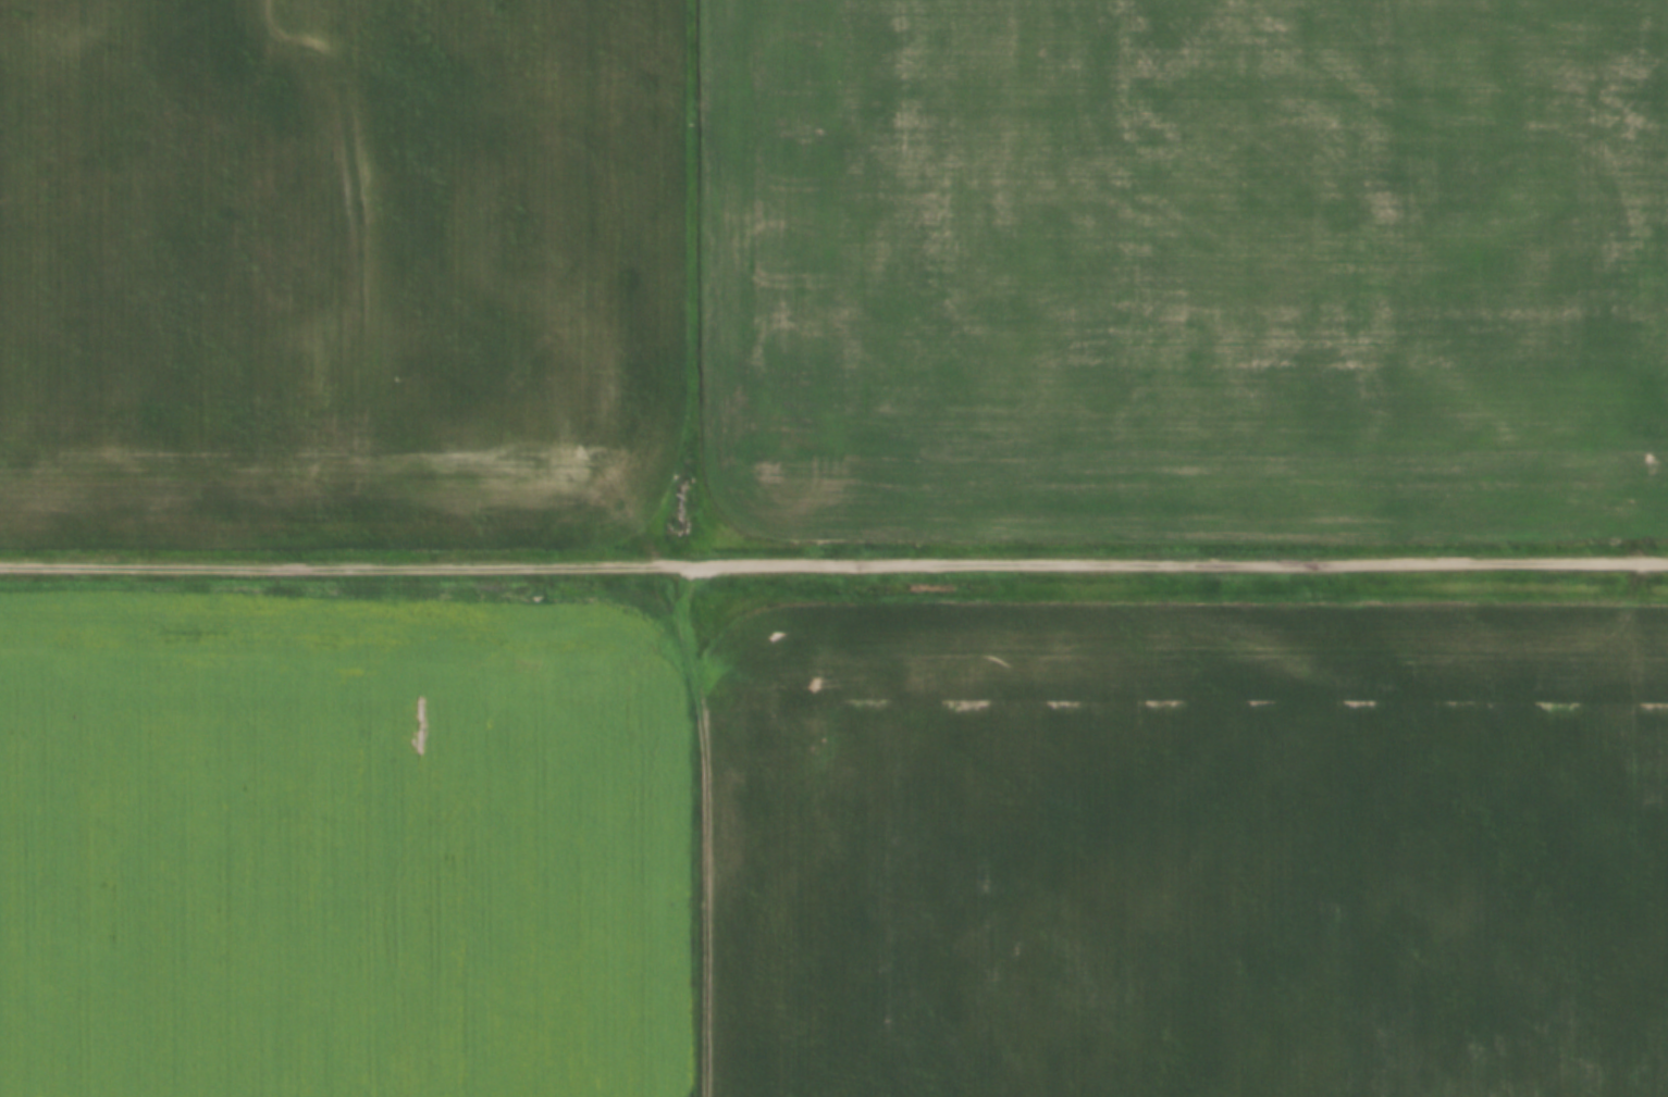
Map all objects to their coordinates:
road: (833, 564)
road: (692, 830)

